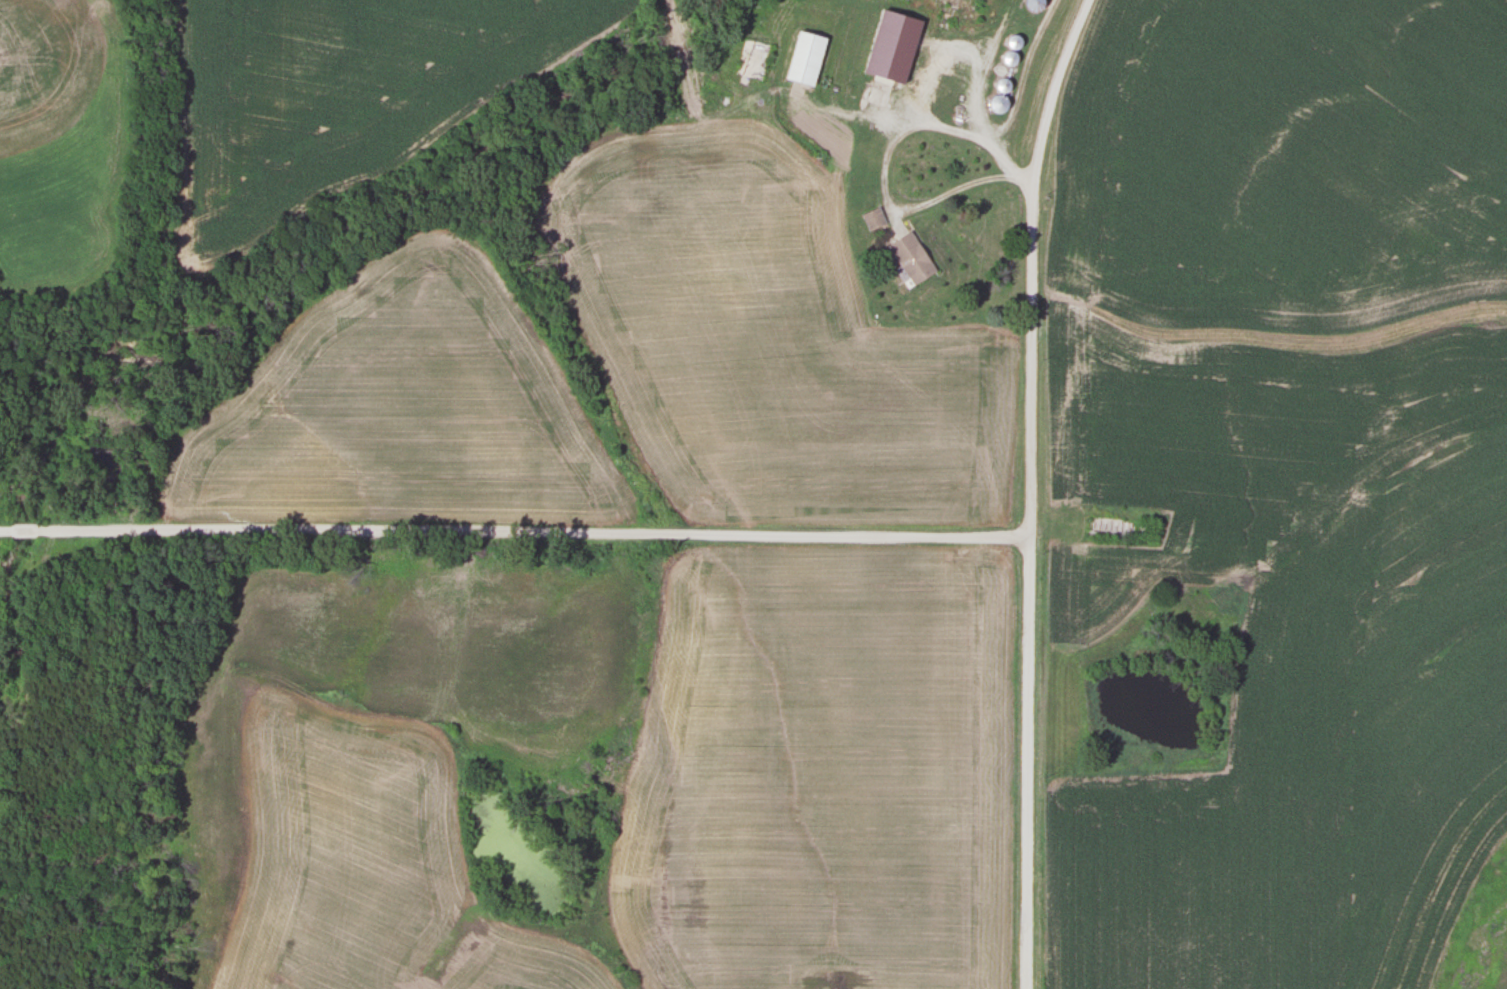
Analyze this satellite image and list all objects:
building: (1033, 5)
building: (965, 7)
building: (804, 58)
building: (752, 59)
building: (880, 72)
building: (994, 104)
road: (956, 192)
building: (872, 219)
building: (910, 258)
road: (1030, 489)
building: (1110, 529)
building: (21, 530)
road: (514, 531)

